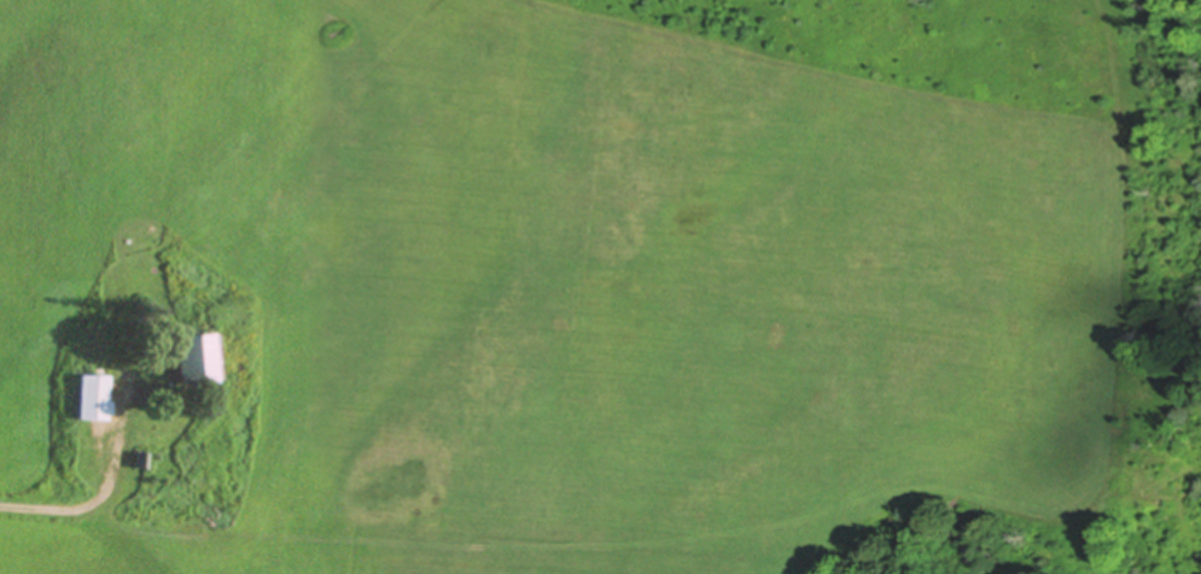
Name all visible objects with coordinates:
building: (183, 361)
building: (88, 398)
road: (89, 504)

